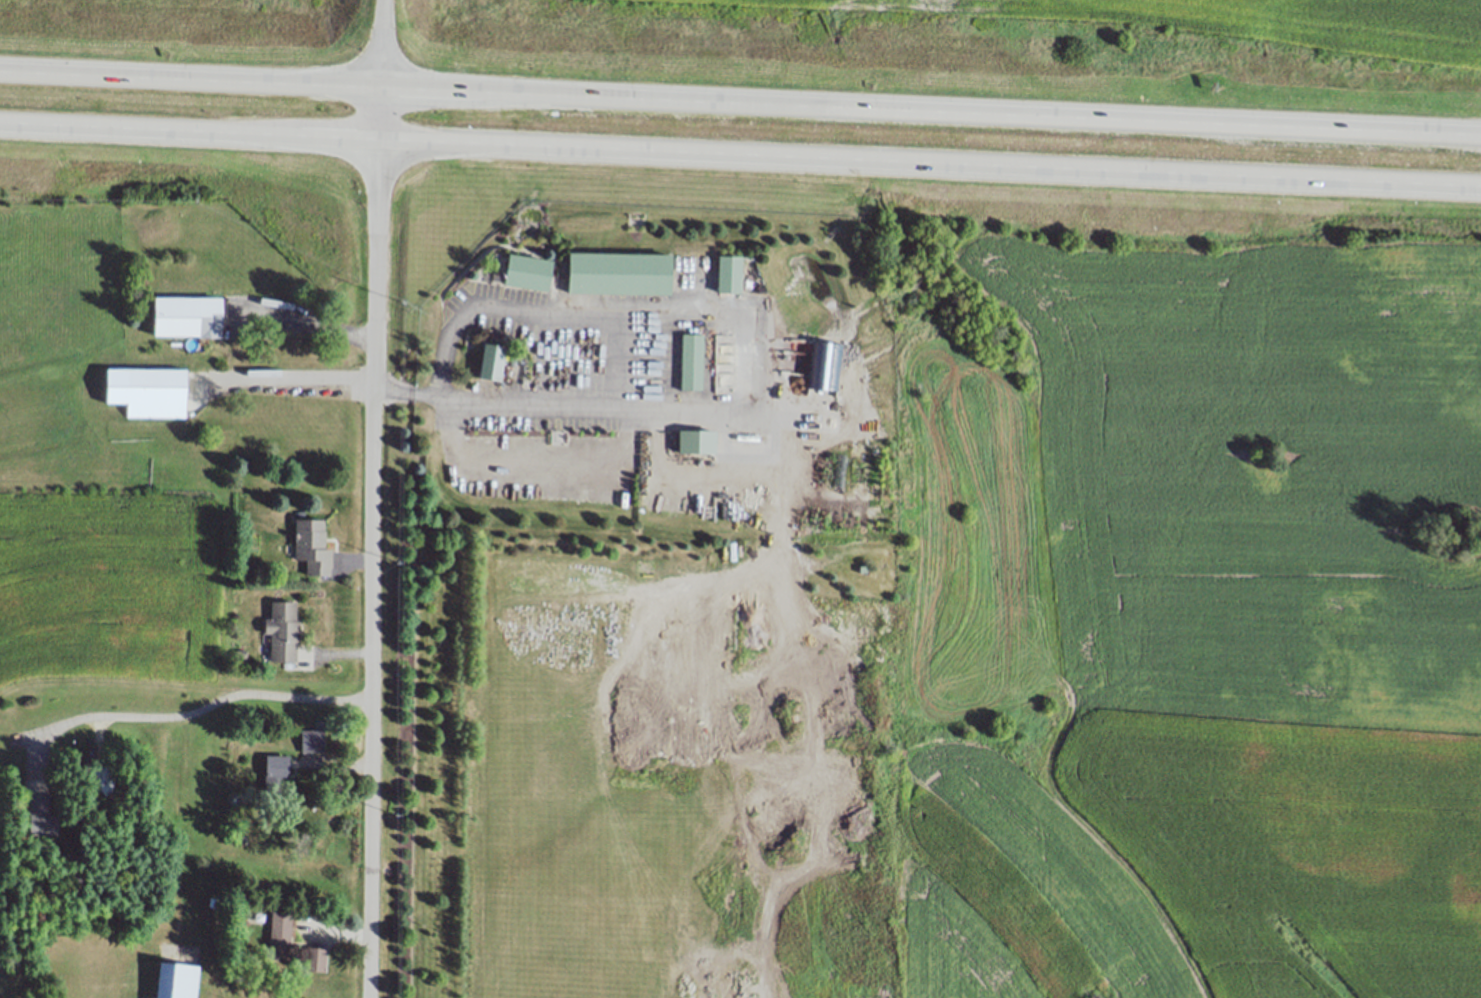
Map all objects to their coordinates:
crop: (1251, 24)
road: (190, 81)
road: (931, 115)
road: (190, 135)
road: (930, 164)
building: (527, 273)
building: (618, 273)
building: (728, 274)
building: (188, 316)
road: (305, 325)
road: (760, 350)
building: (491, 360)
building: (692, 362)
building: (824, 368)
road: (285, 379)
building: (156, 392)
building: (697, 441)
building: (847, 479)
road: (375, 499)
building: (312, 546)
building: (863, 570)
building: (282, 629)
building: (239, 653)
road: (200, 707)
building: (311, 741)
building: (275, 774)
building: (99, 781)
building: (41, 816)
building: (213, 902)
building: (279, 933)
building: (314, 958)
building: (175, 980)

